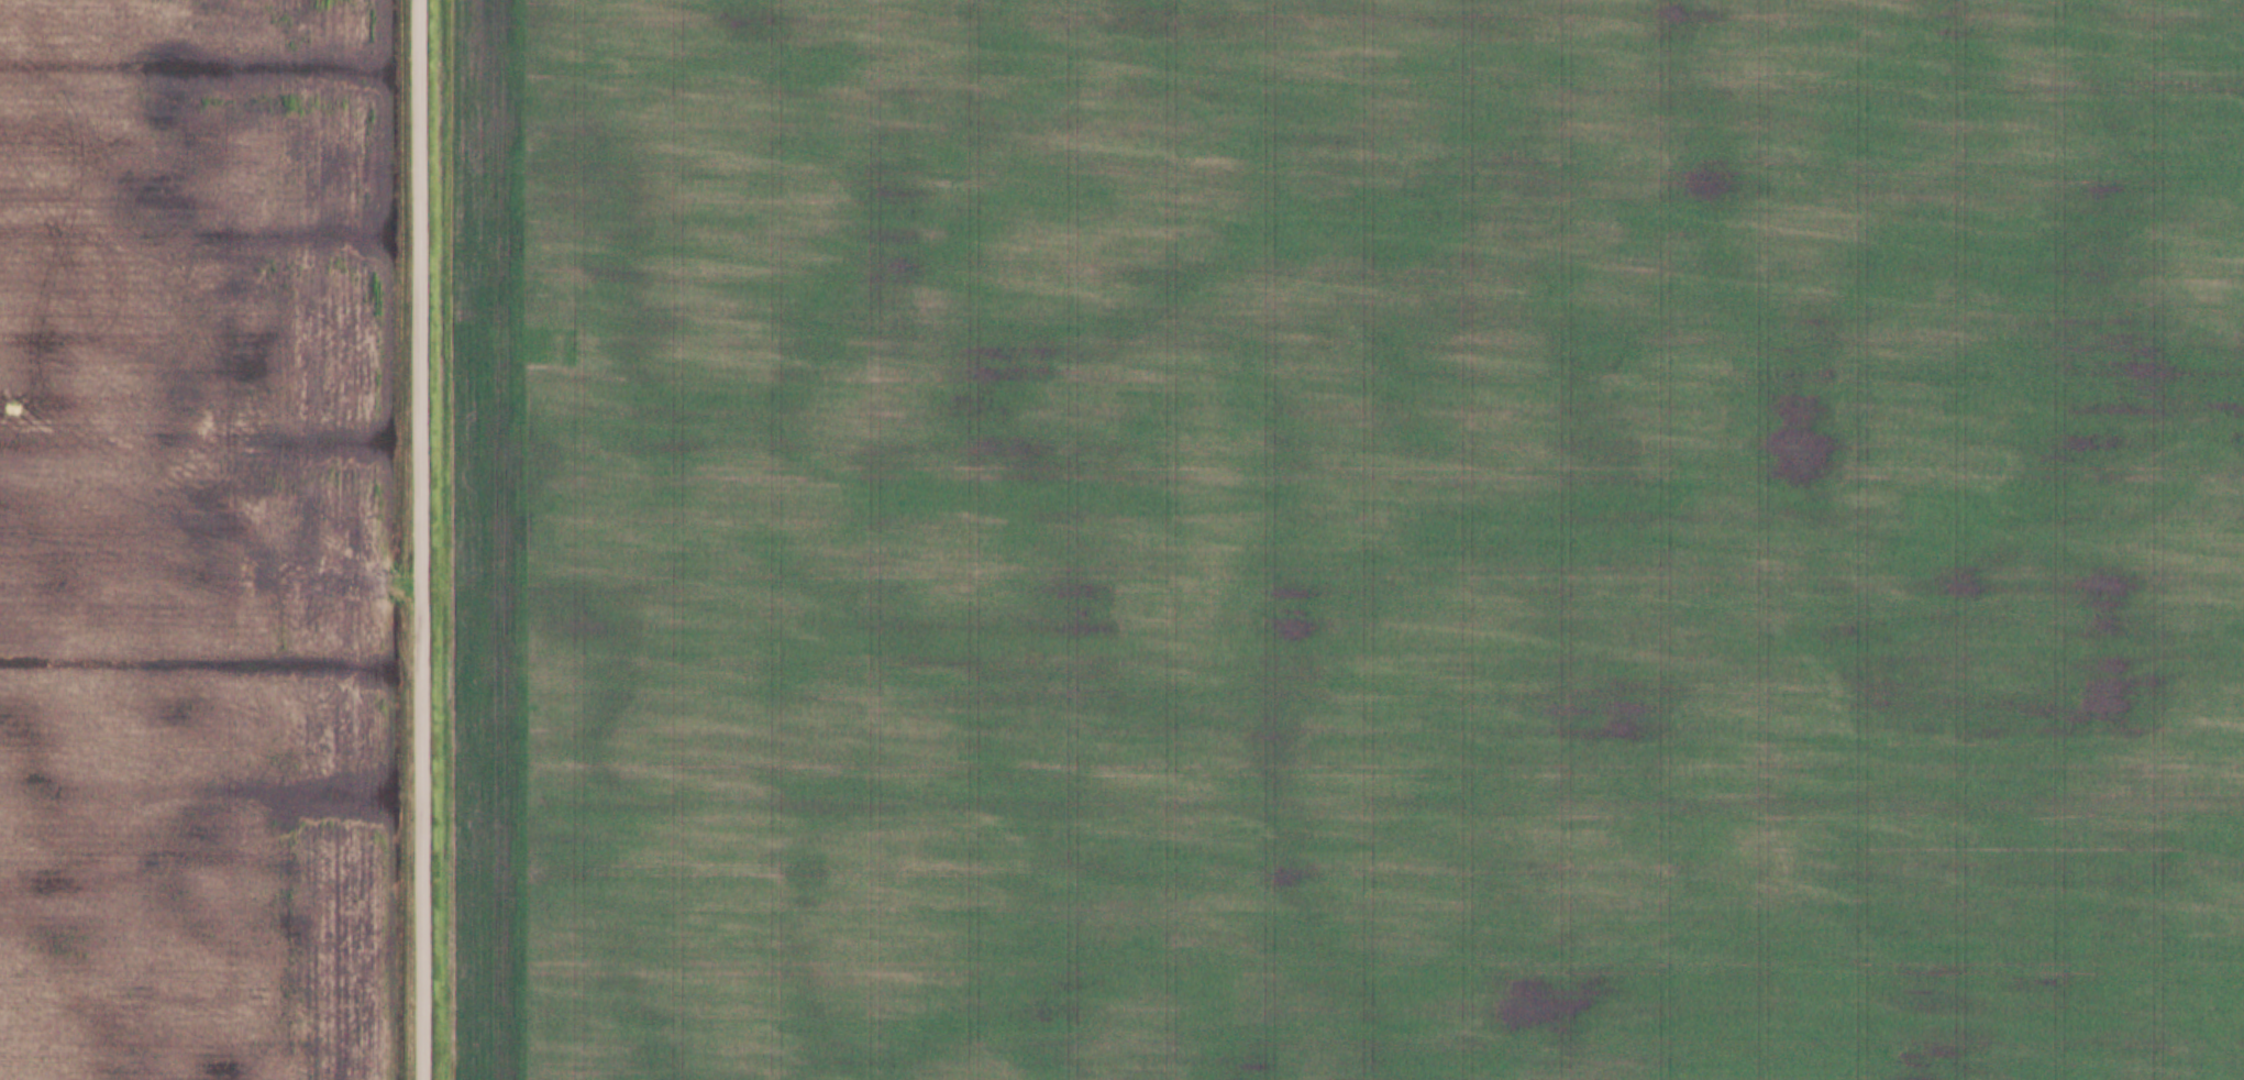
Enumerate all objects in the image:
road: (421, 540)

